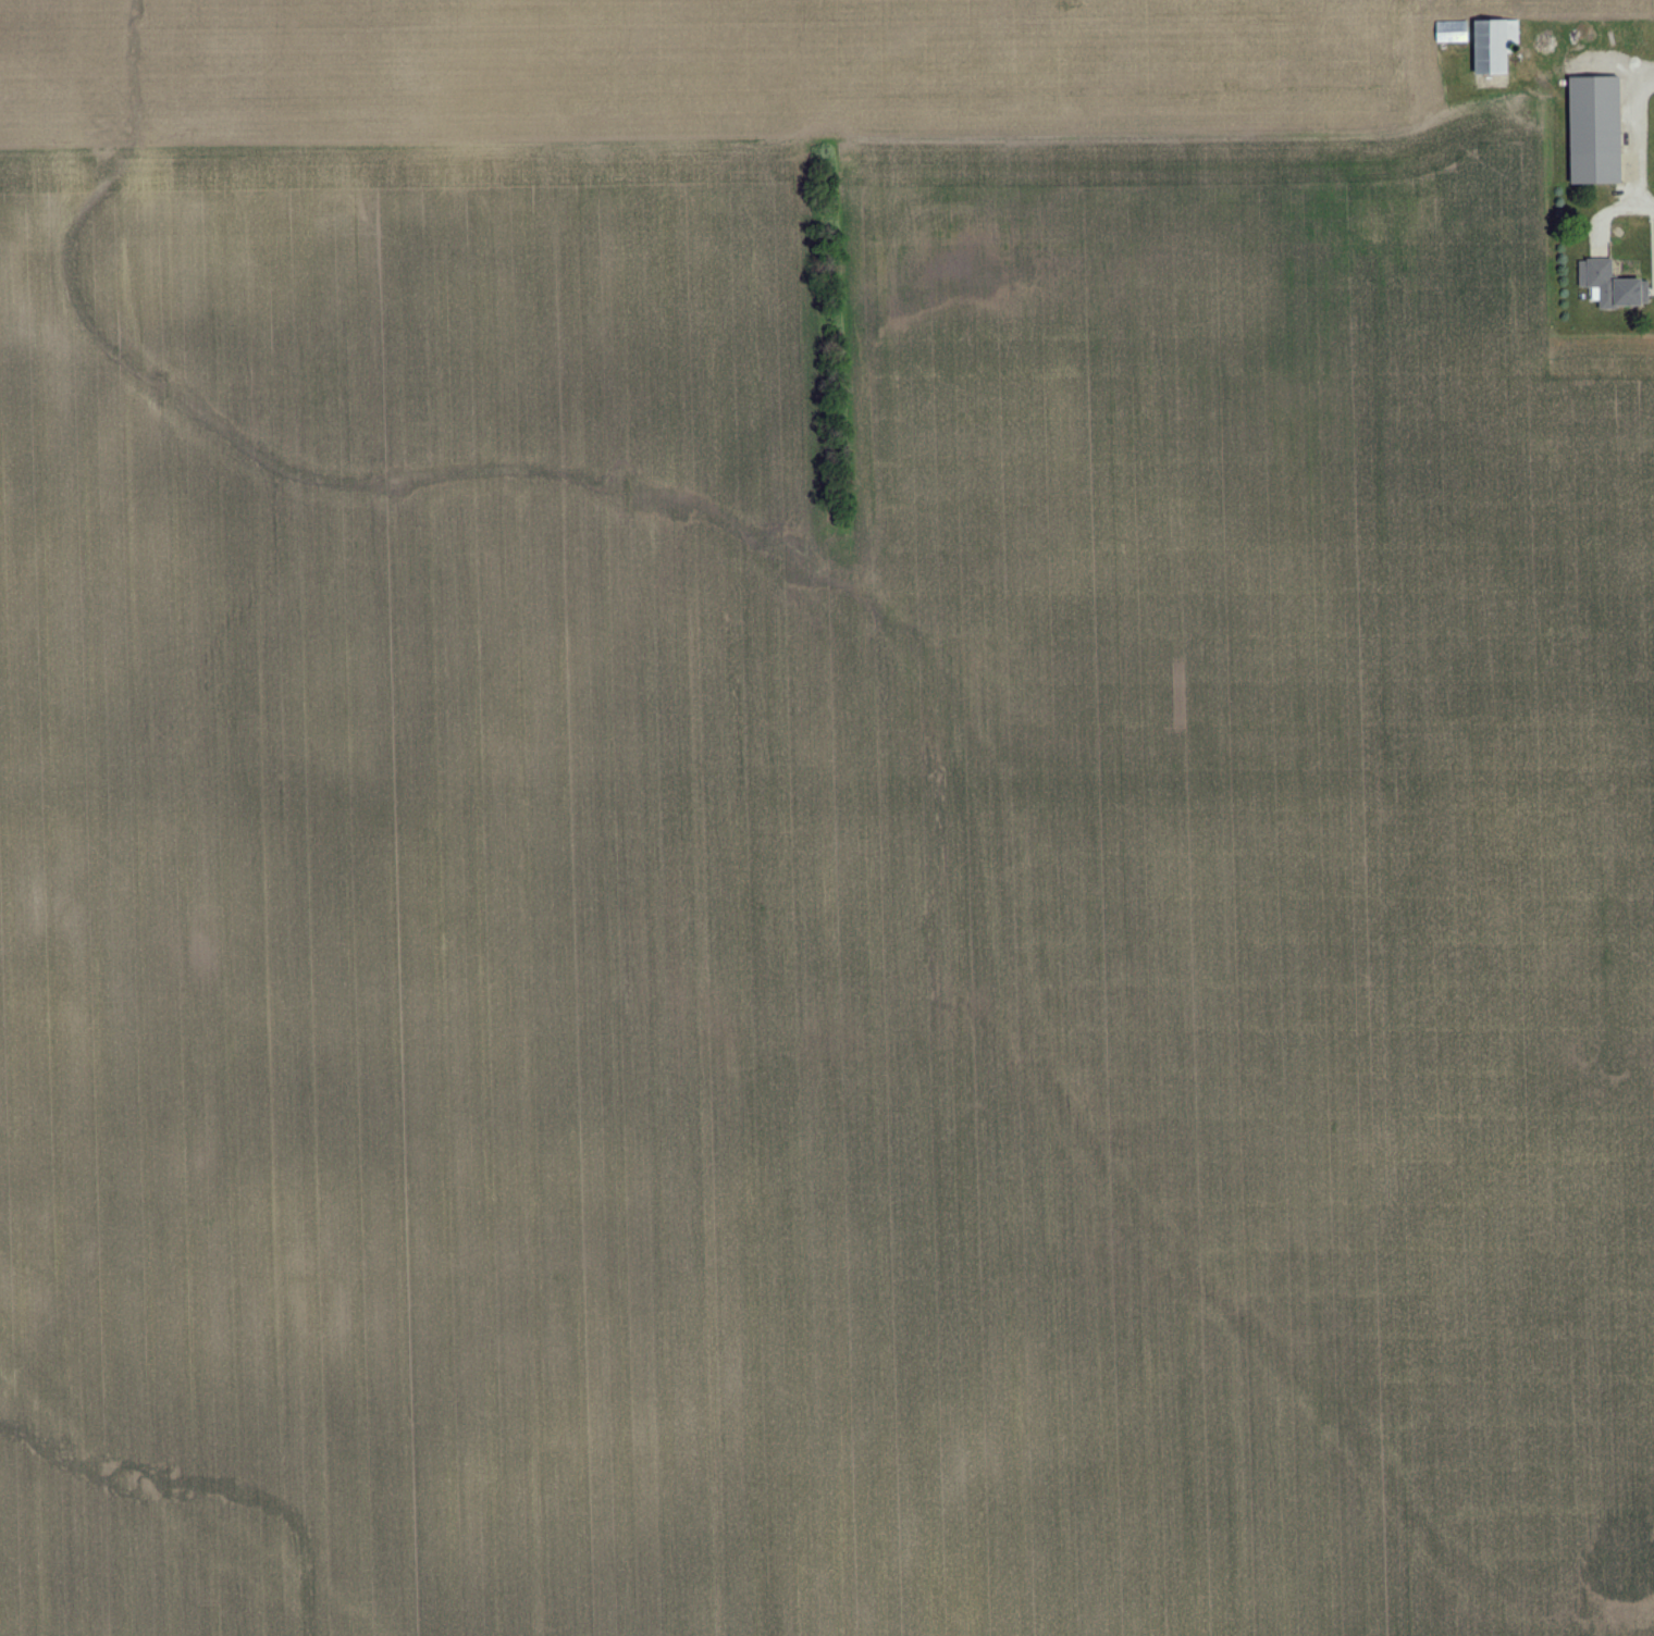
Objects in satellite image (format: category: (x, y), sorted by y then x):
building: (1454, 34)
building: (1495, 45)
building: (1599, 132)
building: (1609, 285)
crop: (814, 828)

